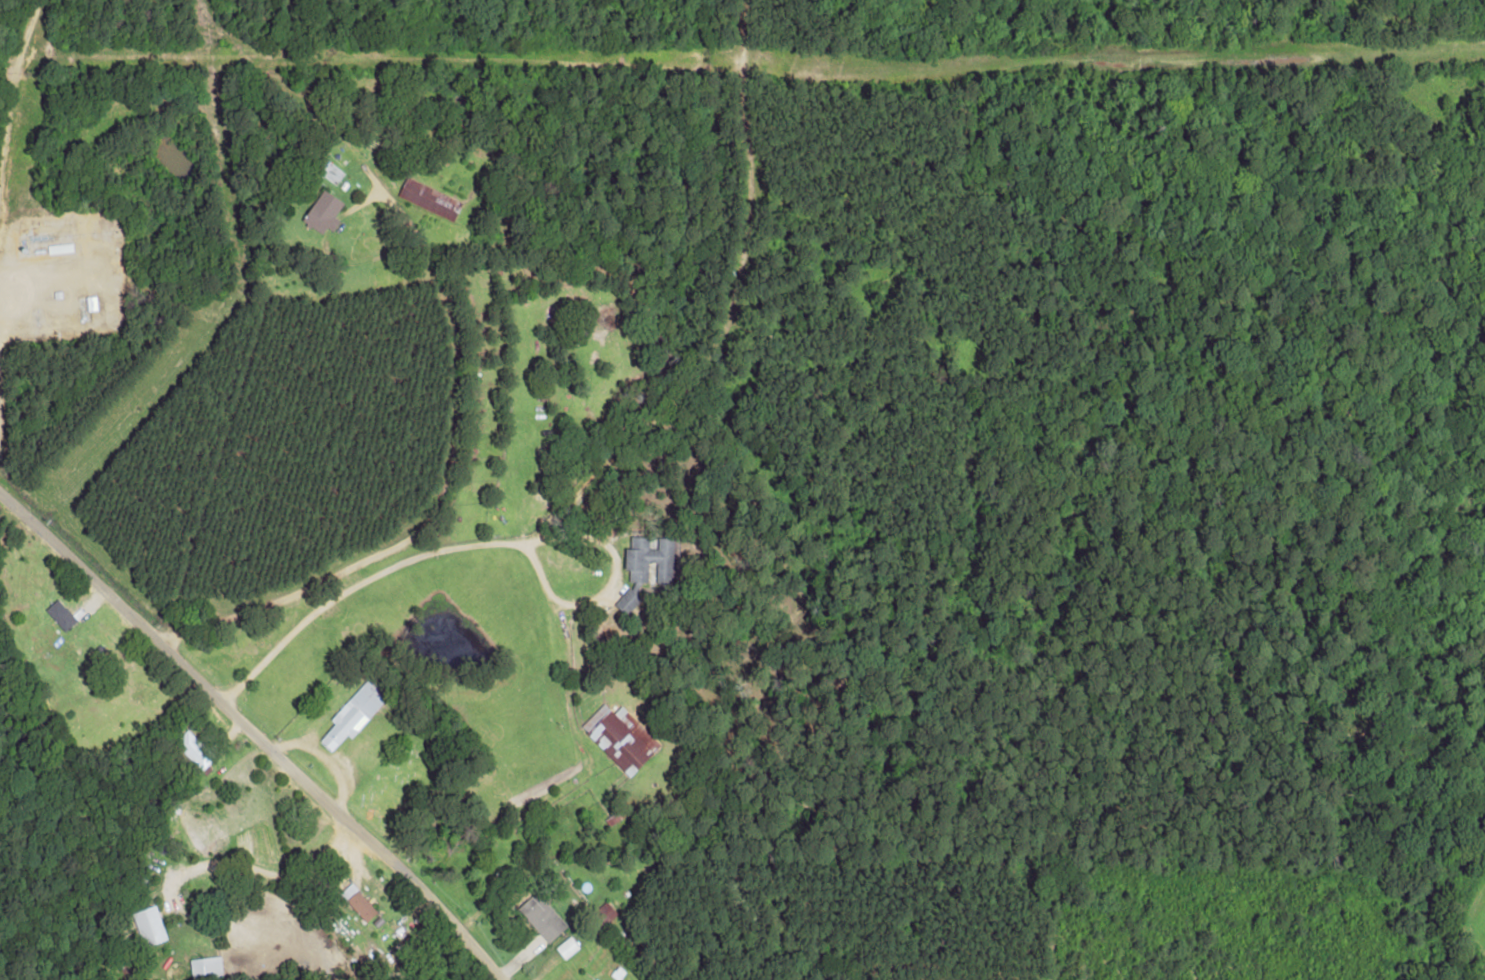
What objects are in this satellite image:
building: (429, 198)
building: (322, 211)
road: (443, 336)
building: (649, 560)
road: (98, 598)
building: (627, 601)
building: (60, 615)
building: (354, 712)
building: (620, 737)
building: (193, 749)
road: (327, 830)
road: (135, 849)
building: (357, 903)
building: (606, 910)
building: (541, 917)
building: (148, 926)
building: (566, 948)
building: (205, 969)

